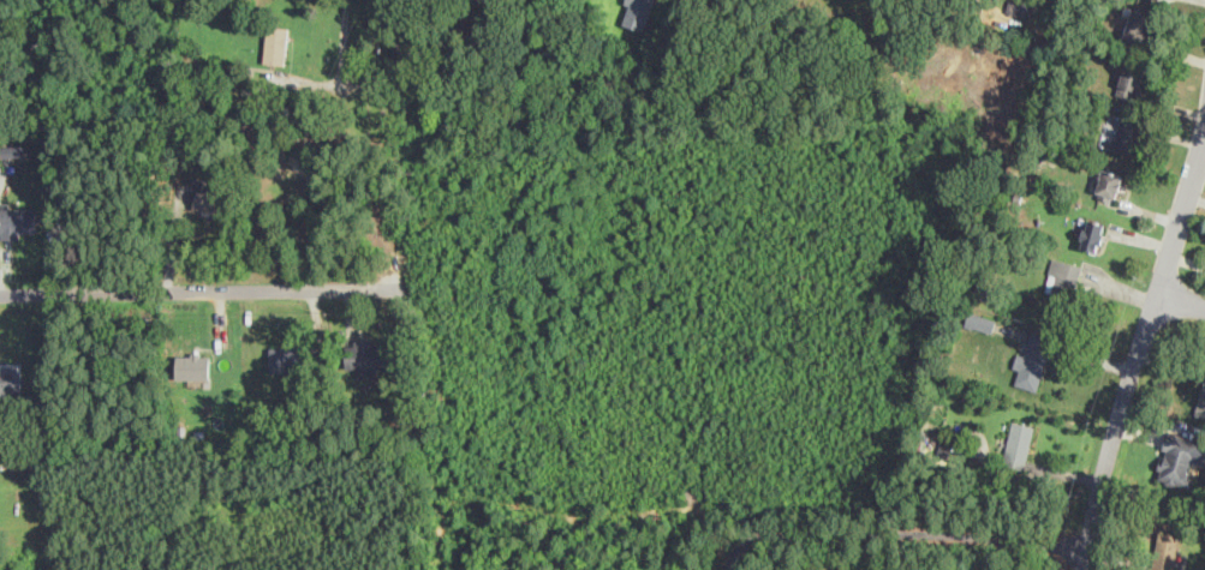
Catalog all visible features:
building: (1021, 6)
road: (1061, 8)
building: (637, 12)
building: (1138, 26)
road: (340, 64)
building: (1132, 79)
building: (1128, 134)
building: (1109, 184)
building: (209, 193)
building: (18, 221)
building: (1092, 234)
building: (1062, 282)
road: (208, 287)
road: (1182, 299)
building: (980, 320)
road: (1138, 353)
building: (368, 355)
building: (288, 358)
building: (1032, 359)
building: (195, 366)
building: (10, 380)
building: (1201, 400)
building: (1018, 444)
building: (1179, 458)
road: (897, 534)
building: (1165, 547)
road: (866, 552)

